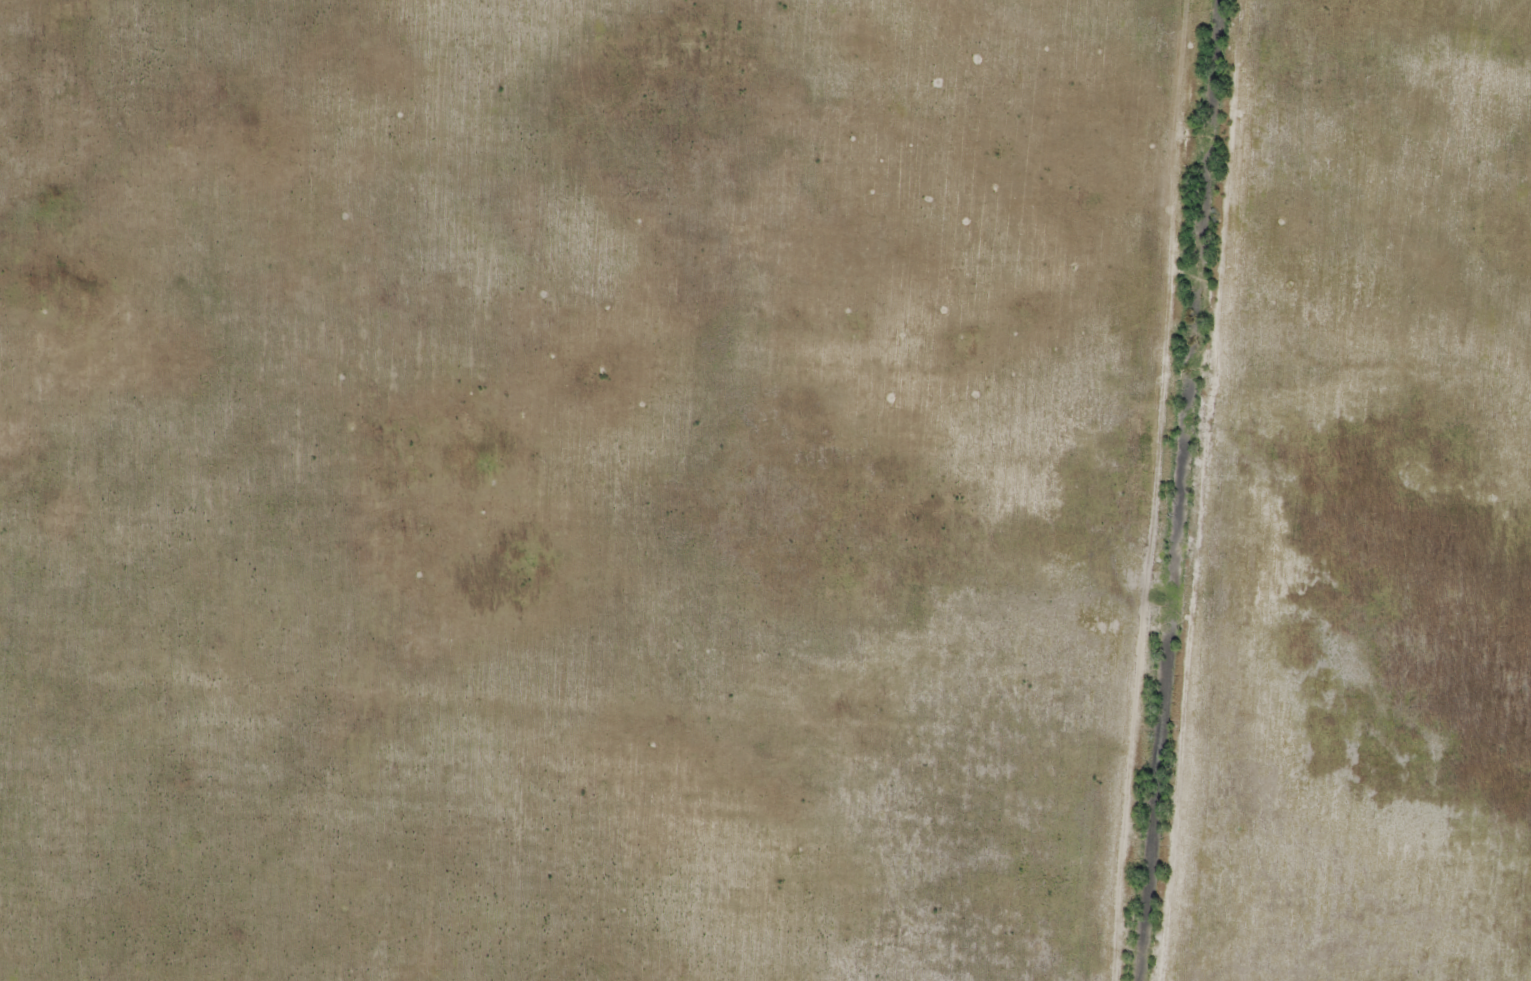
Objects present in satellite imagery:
road: (1152, 492)

